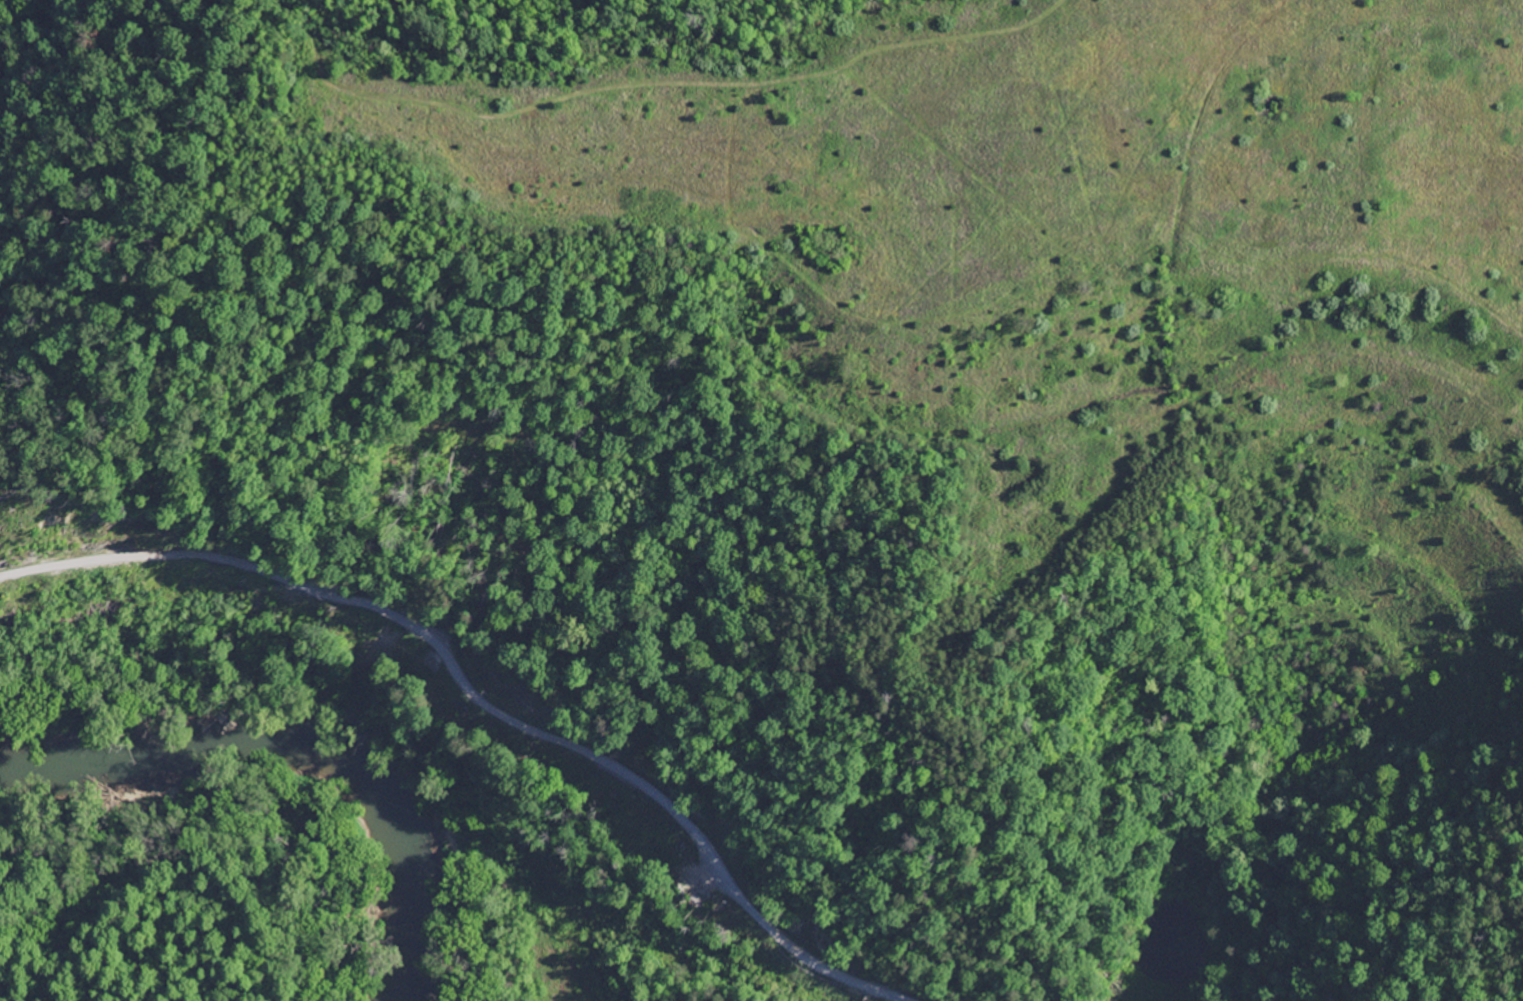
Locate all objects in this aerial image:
road: (480, 699)
river: (294, 769)

